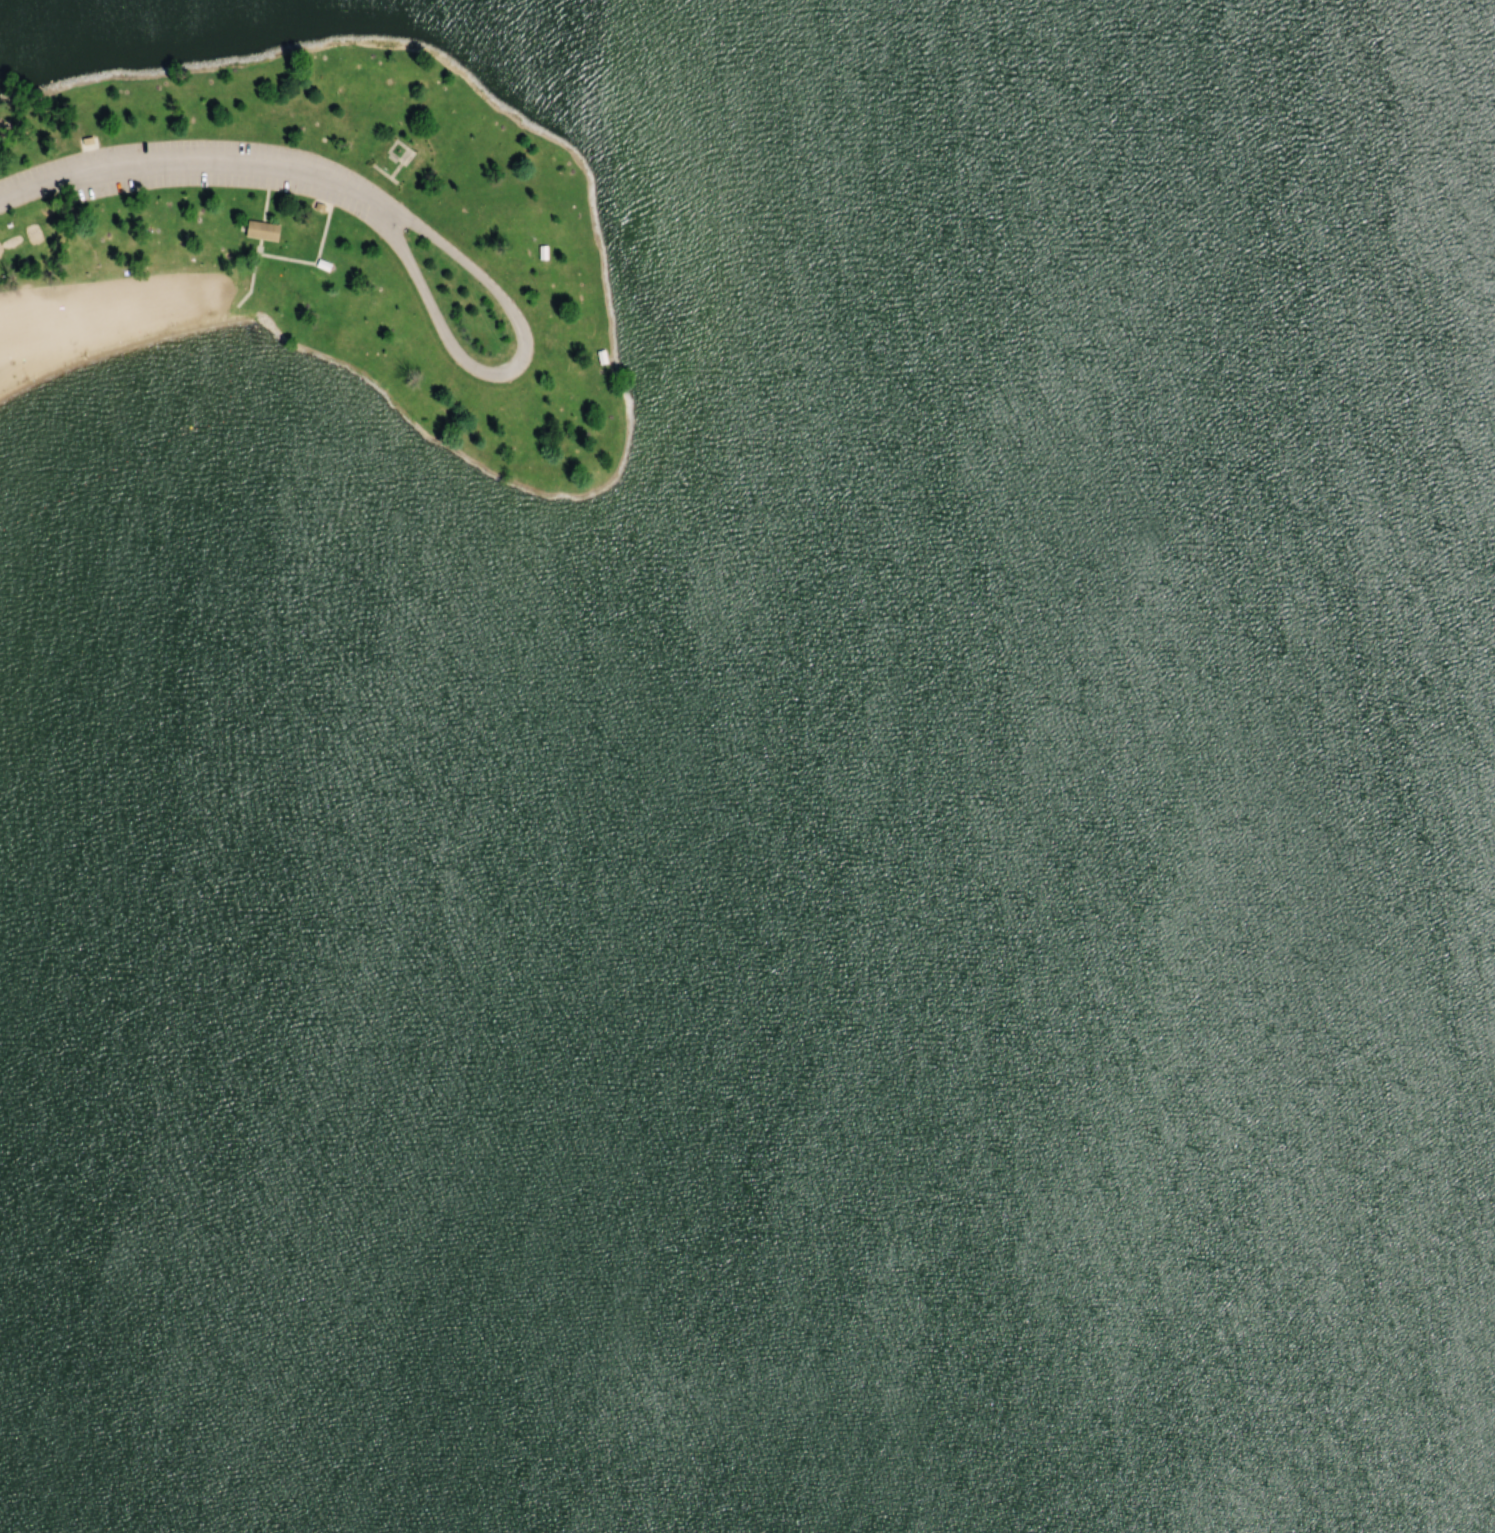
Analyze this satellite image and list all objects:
building: (1, 131)
road: (192, 164)
building: (262, 230)
road: (453, 356)
road: (574, 373)
park: (747, 766)
river: (1105, 1181)

